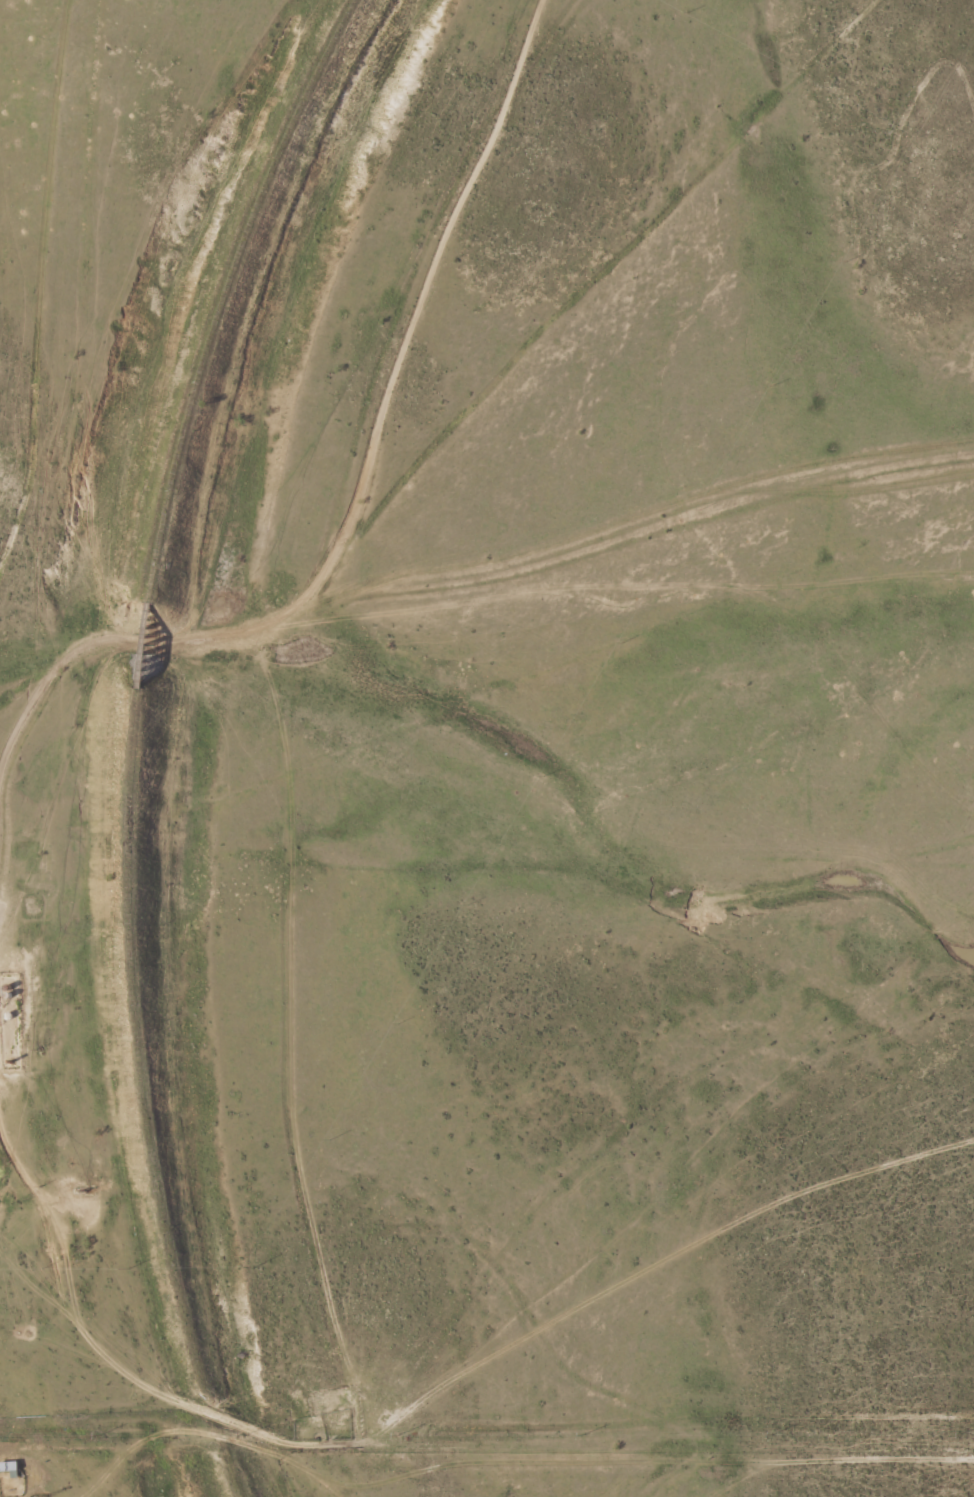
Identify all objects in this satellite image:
railway: (156, 729)

